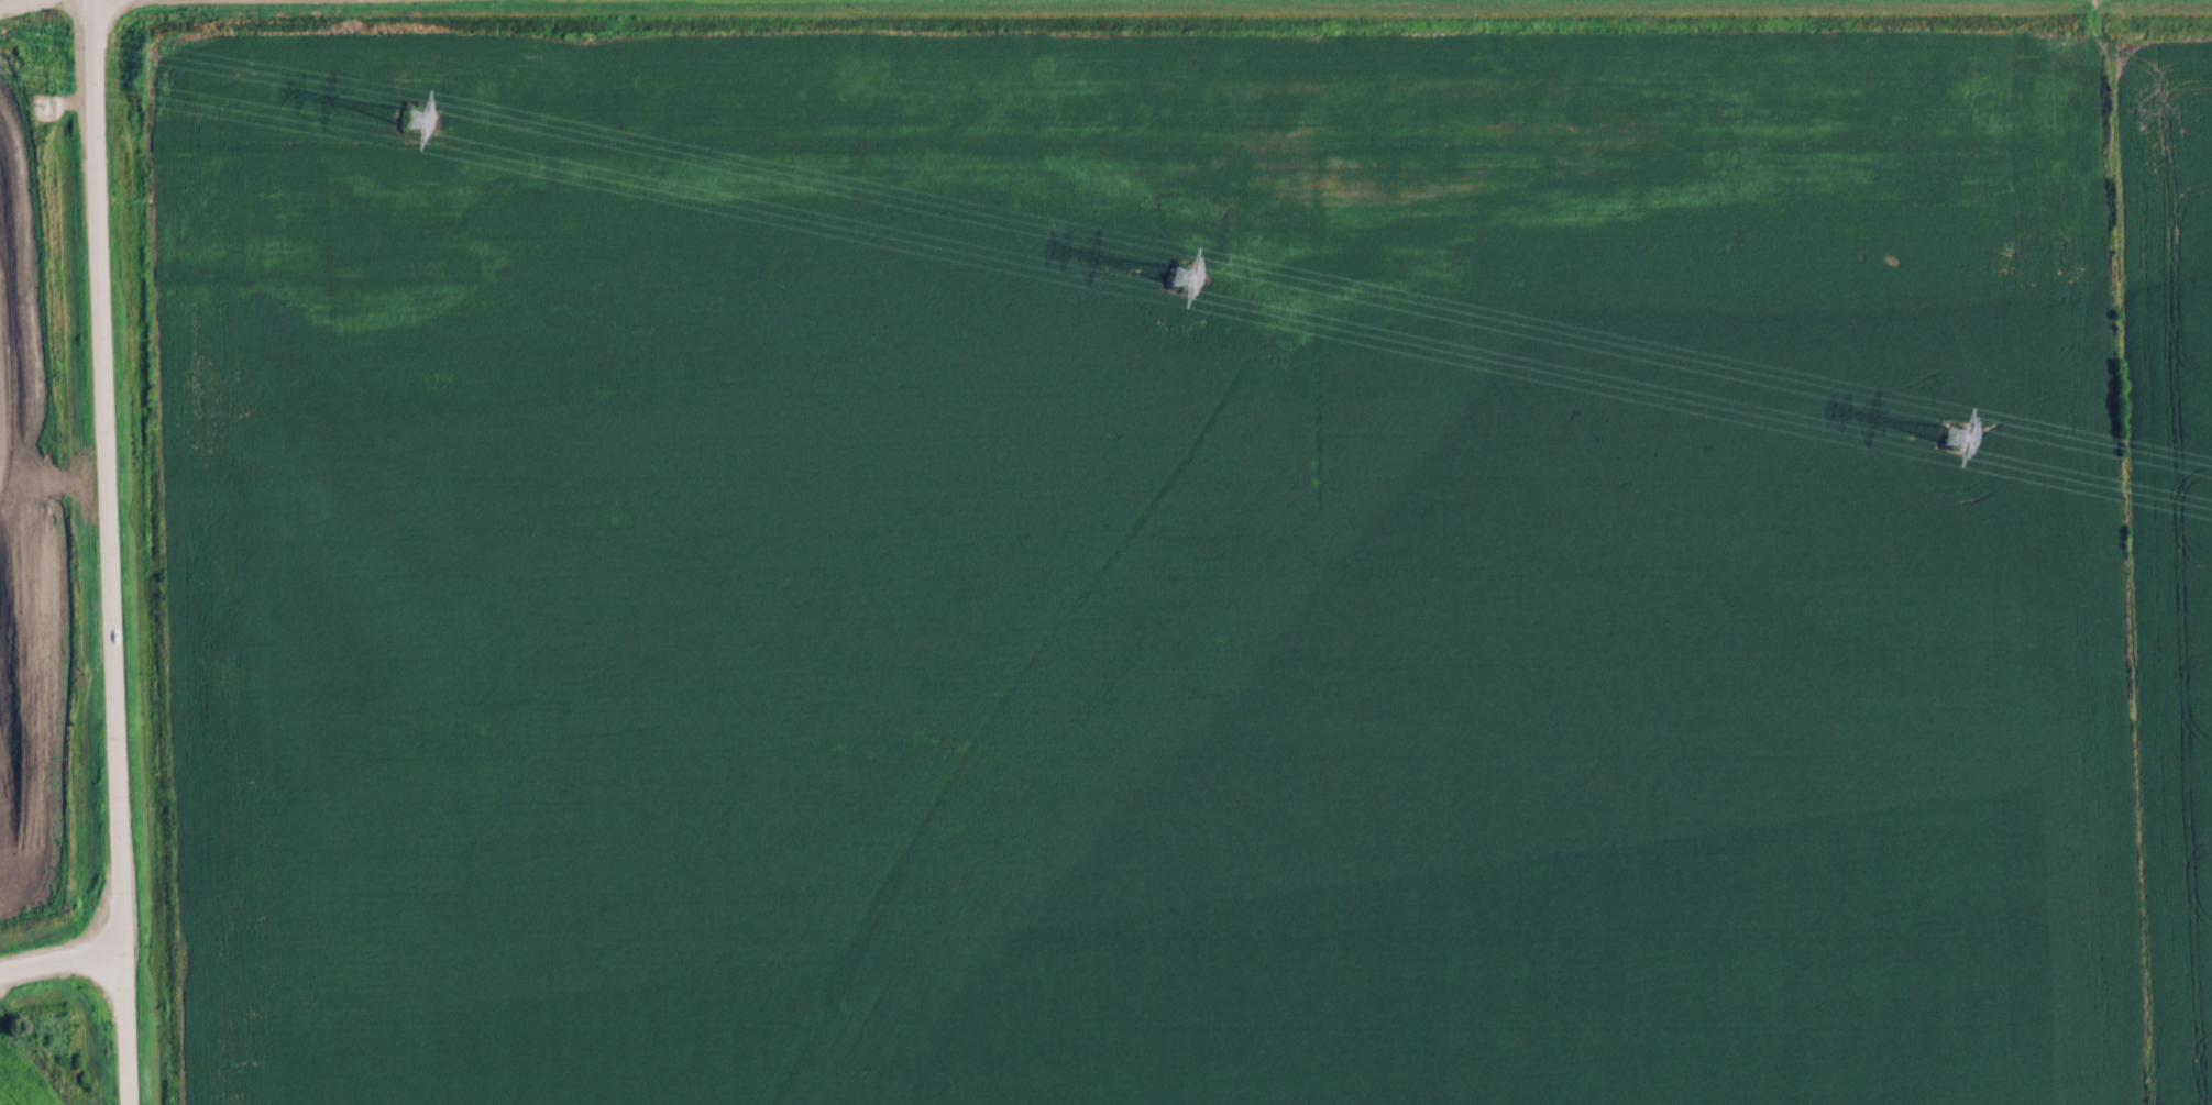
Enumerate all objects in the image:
road: (18, 3)
power tower: (409, 121)
power tower: (1179, 283)
power tower: (1950, 441)
road: (109, 552)
road: (60, 958)

